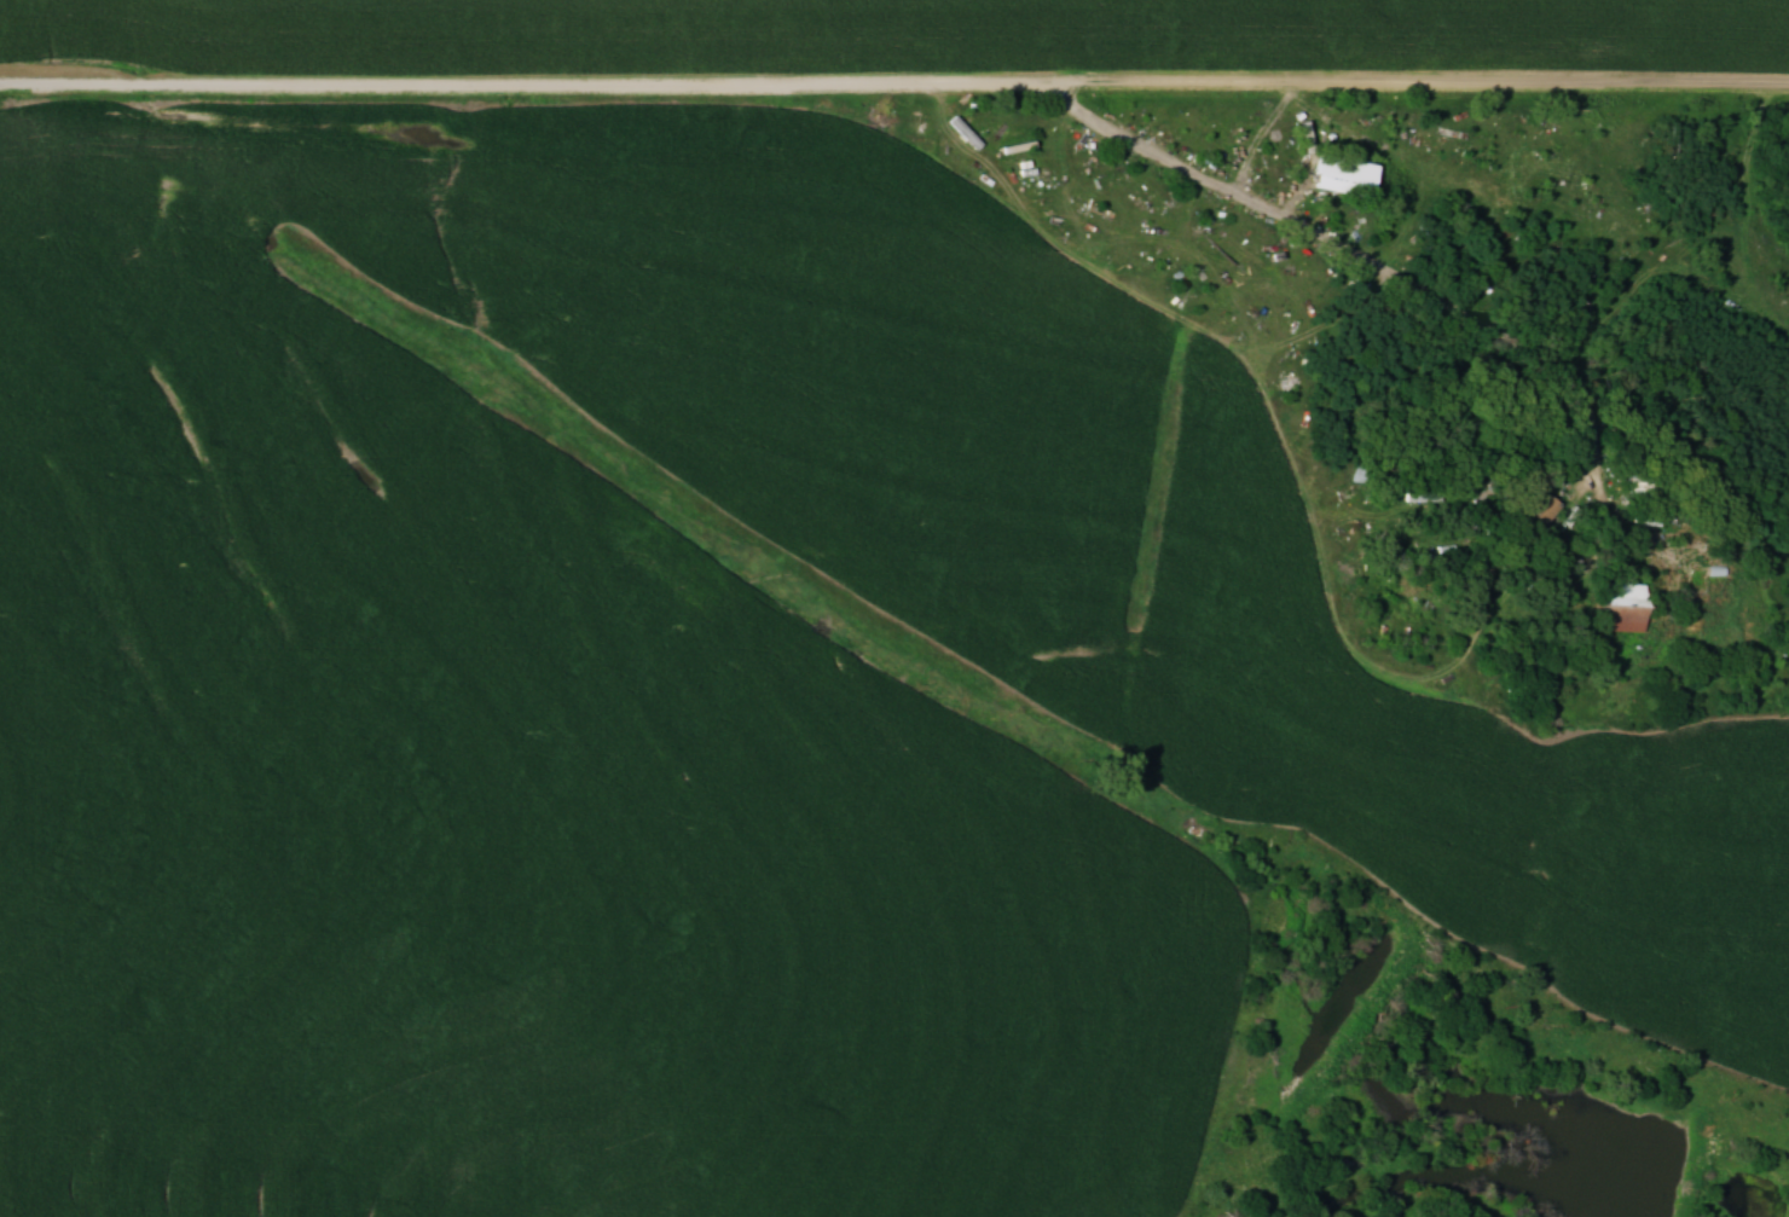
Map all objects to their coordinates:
road: (894, 86)
building: (1338, 174)
road: (1469, 314)
road: (1604, 482)
building: (1538, 508)
building: (1619, 595)

